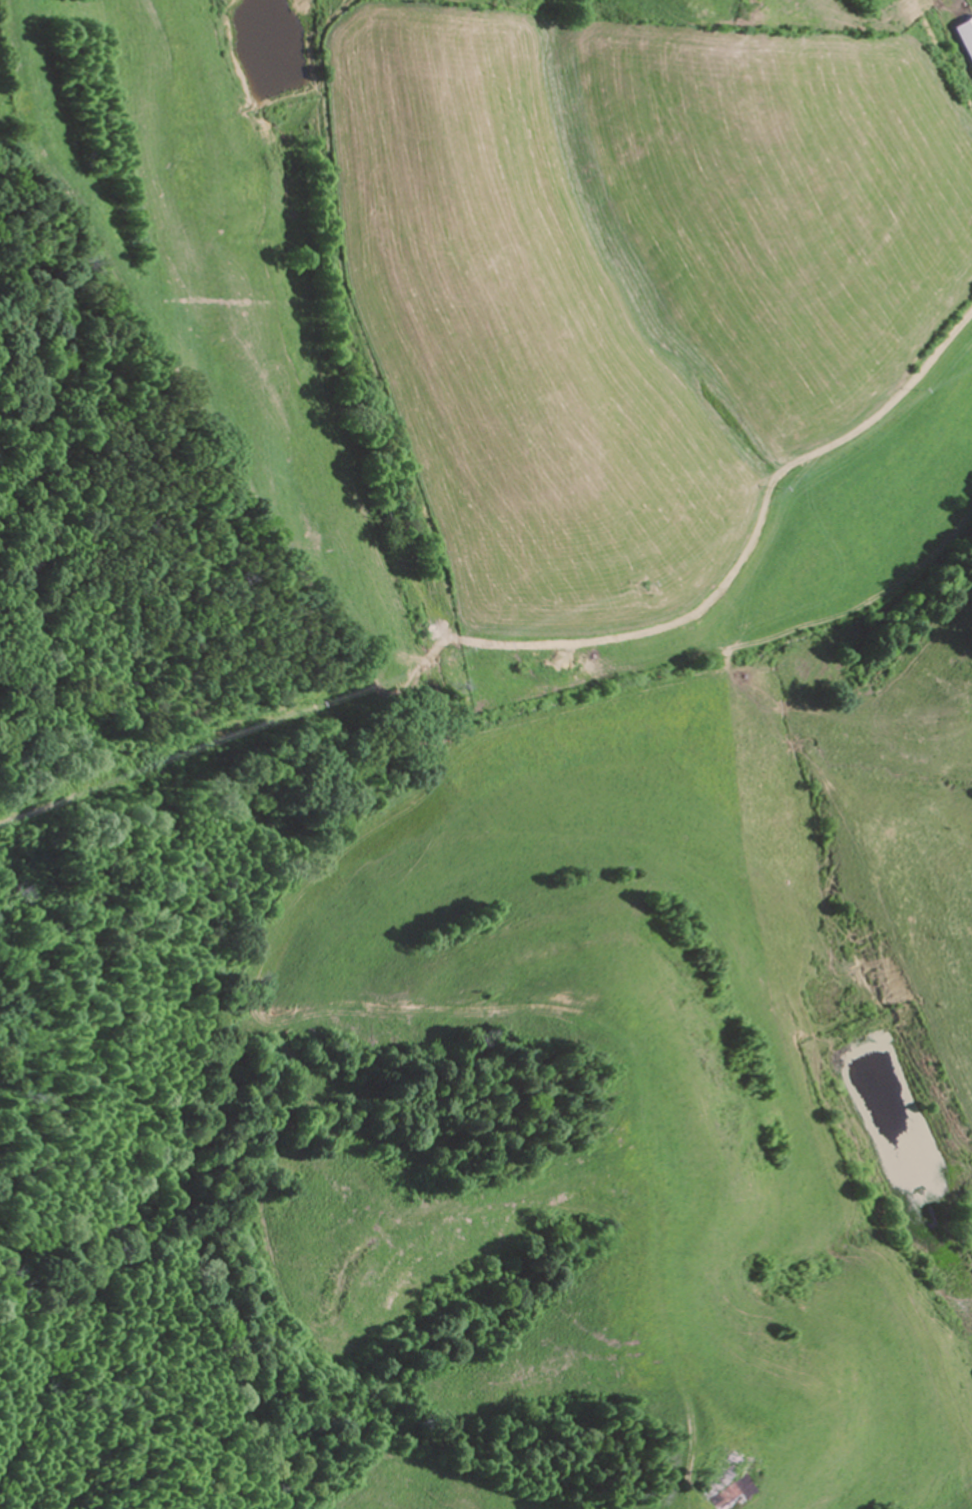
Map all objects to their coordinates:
building: (969, 31)
building: (715, 1469)

